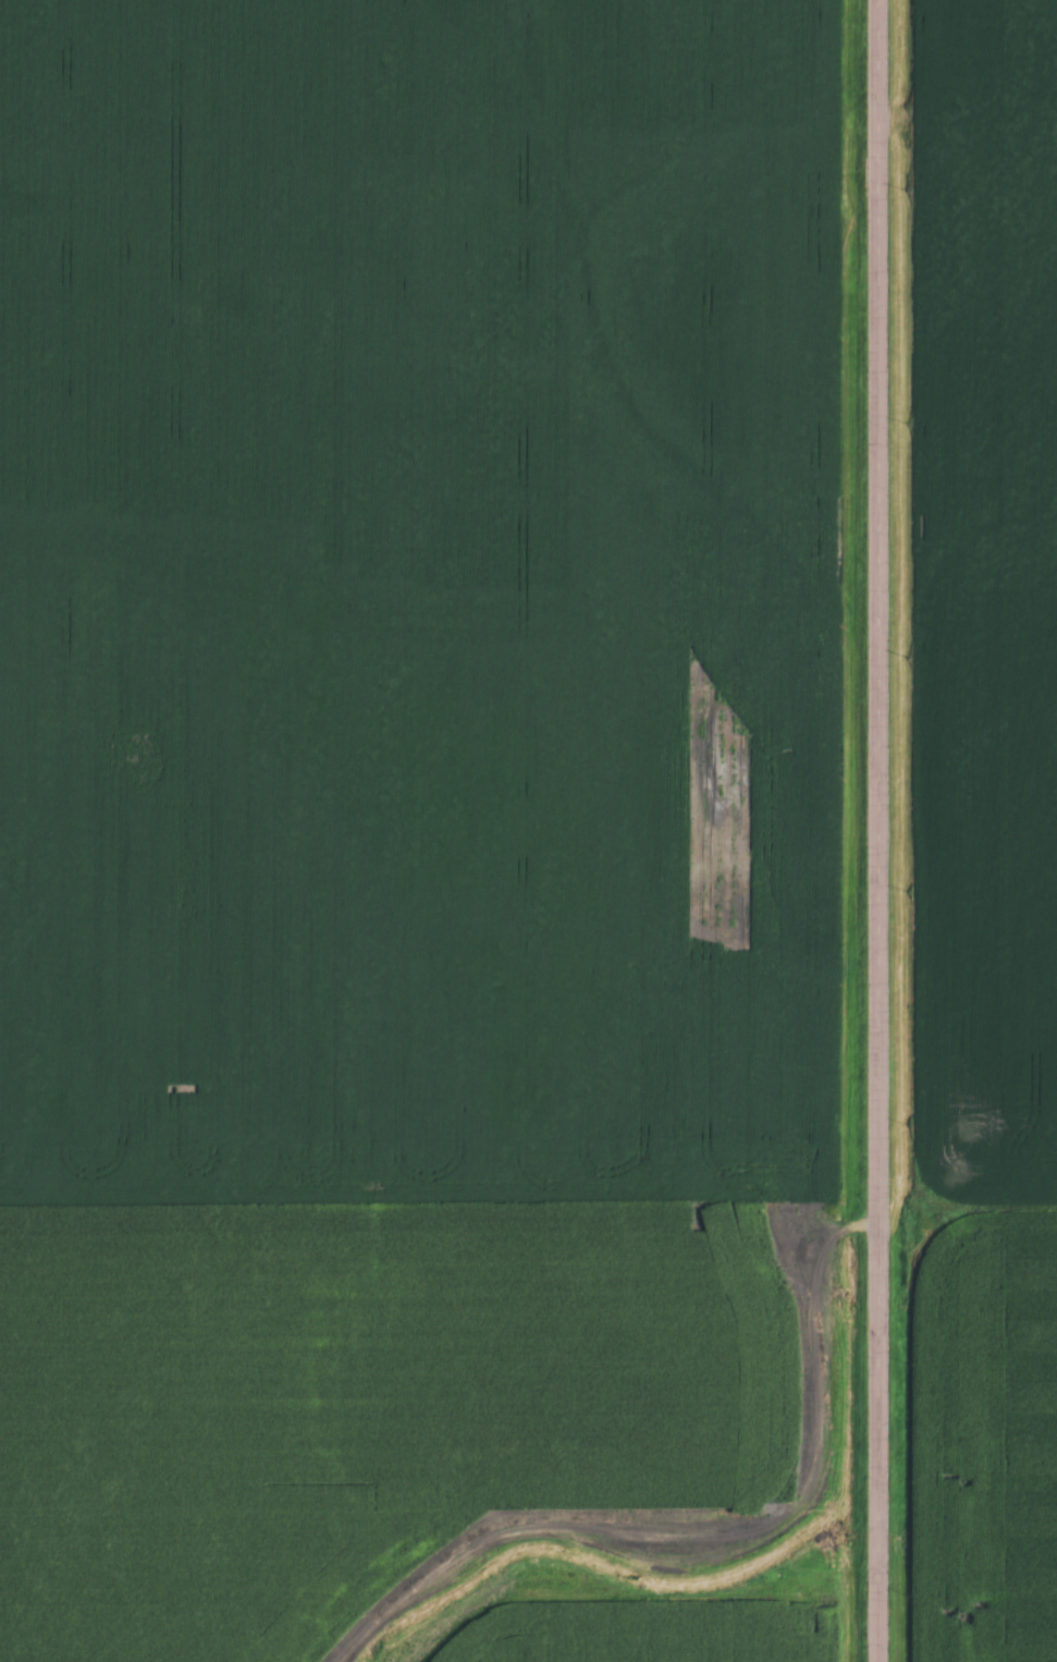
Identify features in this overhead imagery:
road: (878, 831)

